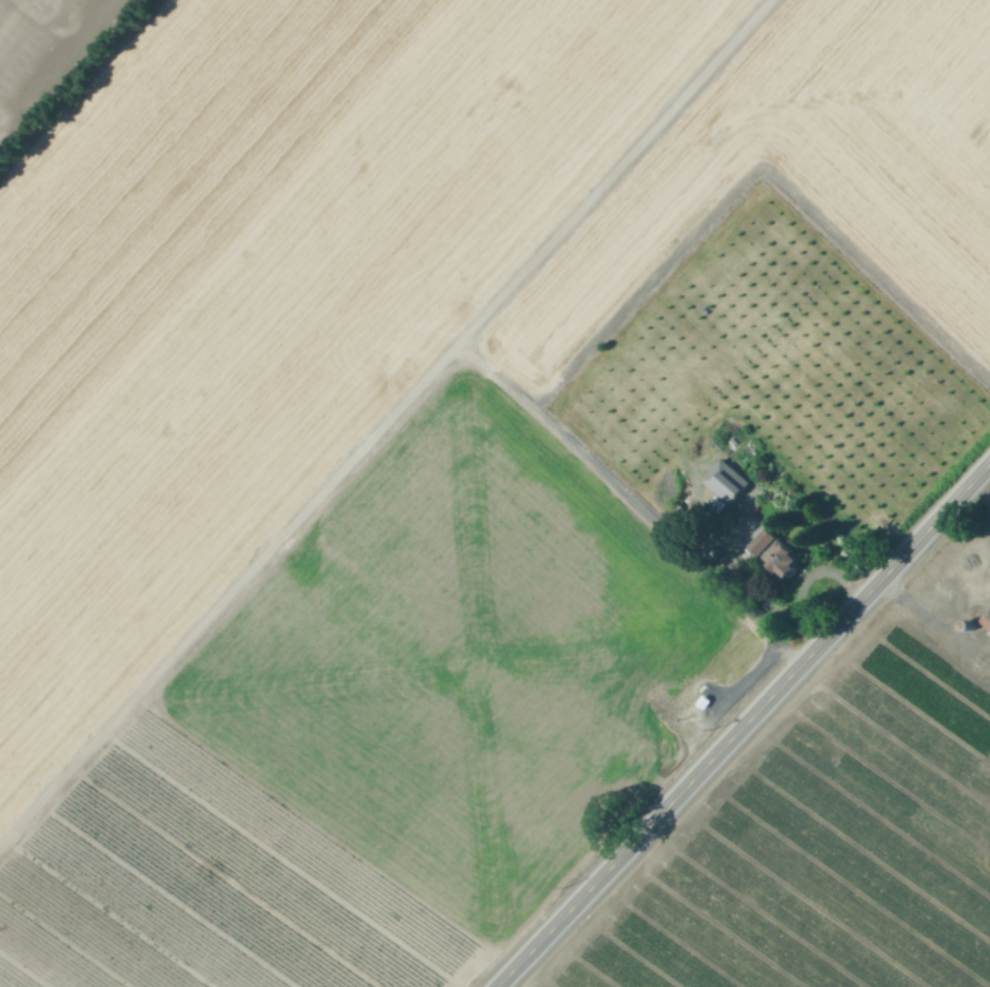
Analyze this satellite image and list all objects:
road: (625, 307)
road: (496, 373)
road: (383, 420)
crop: (441, 441)
building: (730, 498)
building: (764, 542)
building: (786, 561)
building: (987, 620)
road: (743, 725)
crop: (842, 826)

